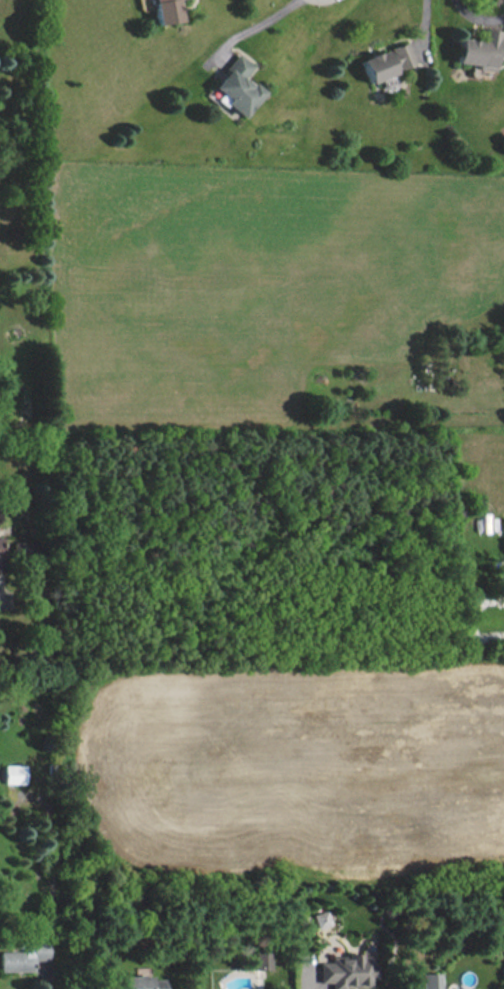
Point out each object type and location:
building: (165, 11)
road: (255, 26)
building: (478, 50)
building: (386, 63)
building: (0, 556)
building: (13, 773)
building: (321, 918)
building: (24, 956)
building: (262, 959)
building: (348, 970)
road: (46, 976)
building: (430, 980)
building: (141, 982)
road: (304, 985)

